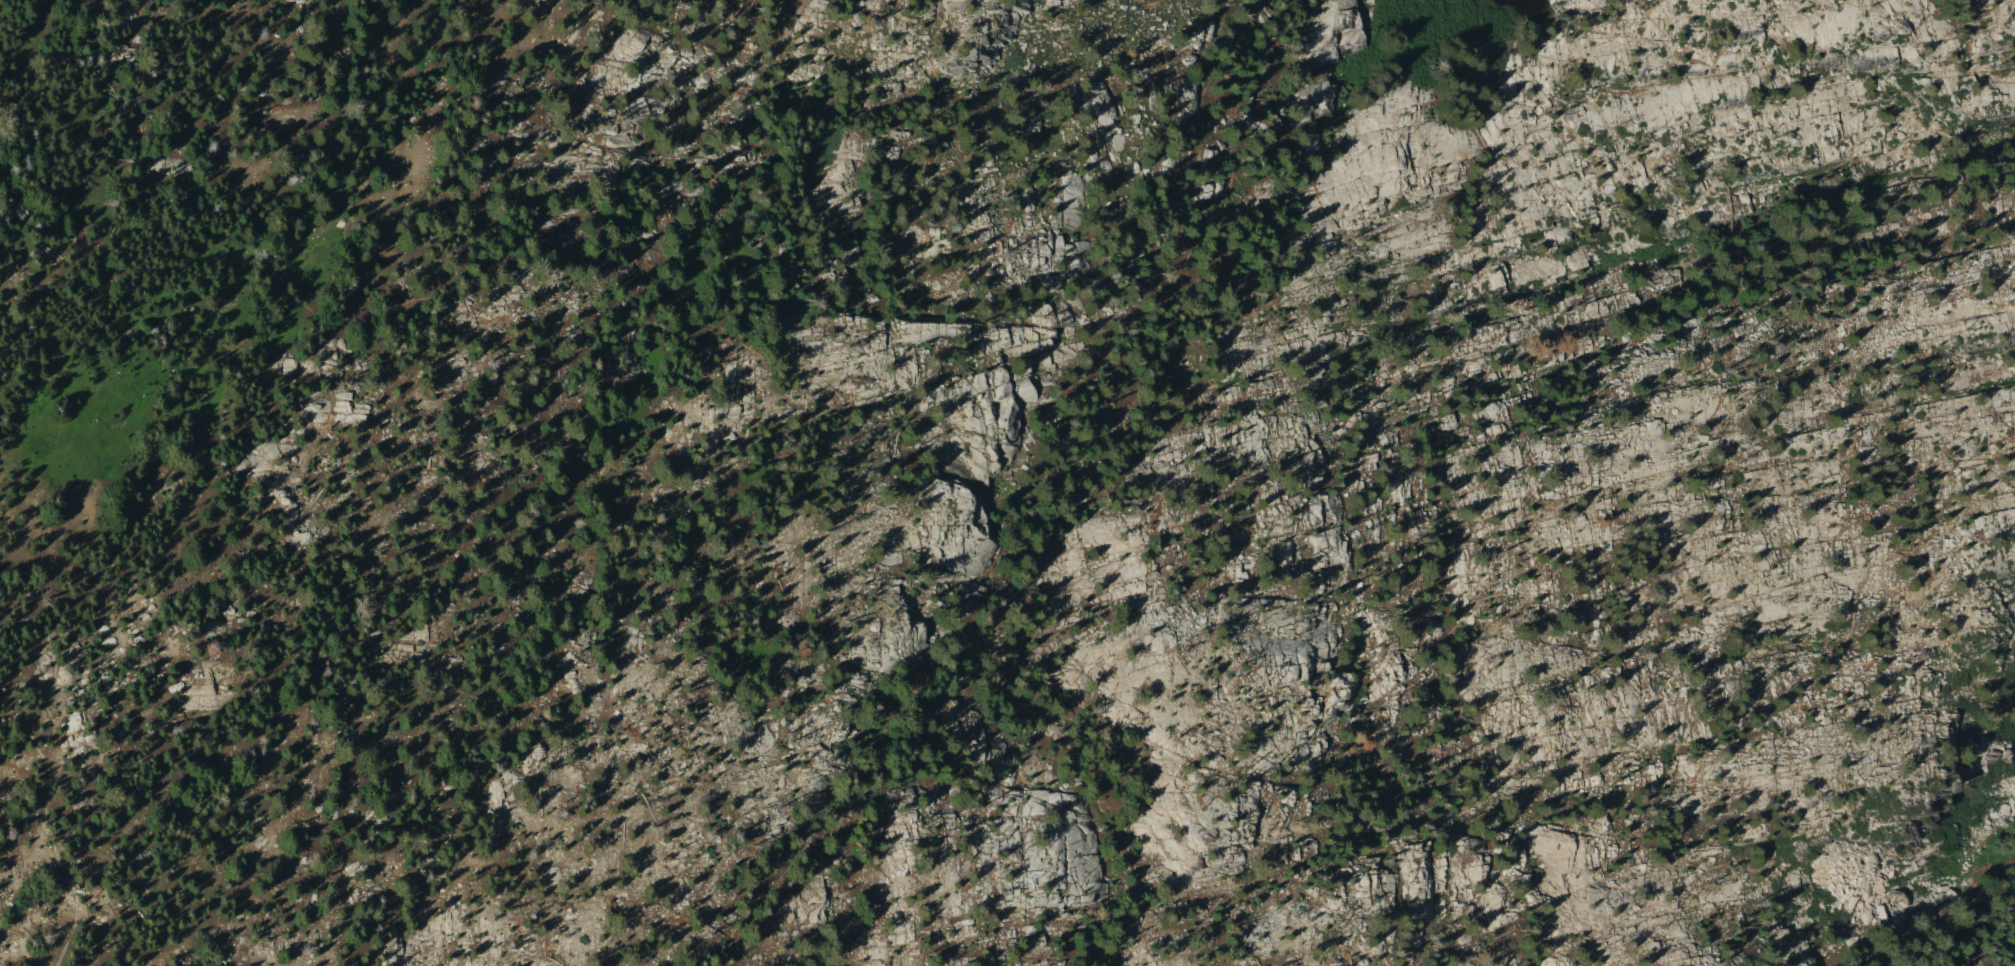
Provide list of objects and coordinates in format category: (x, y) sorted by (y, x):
road: (39, 832)

